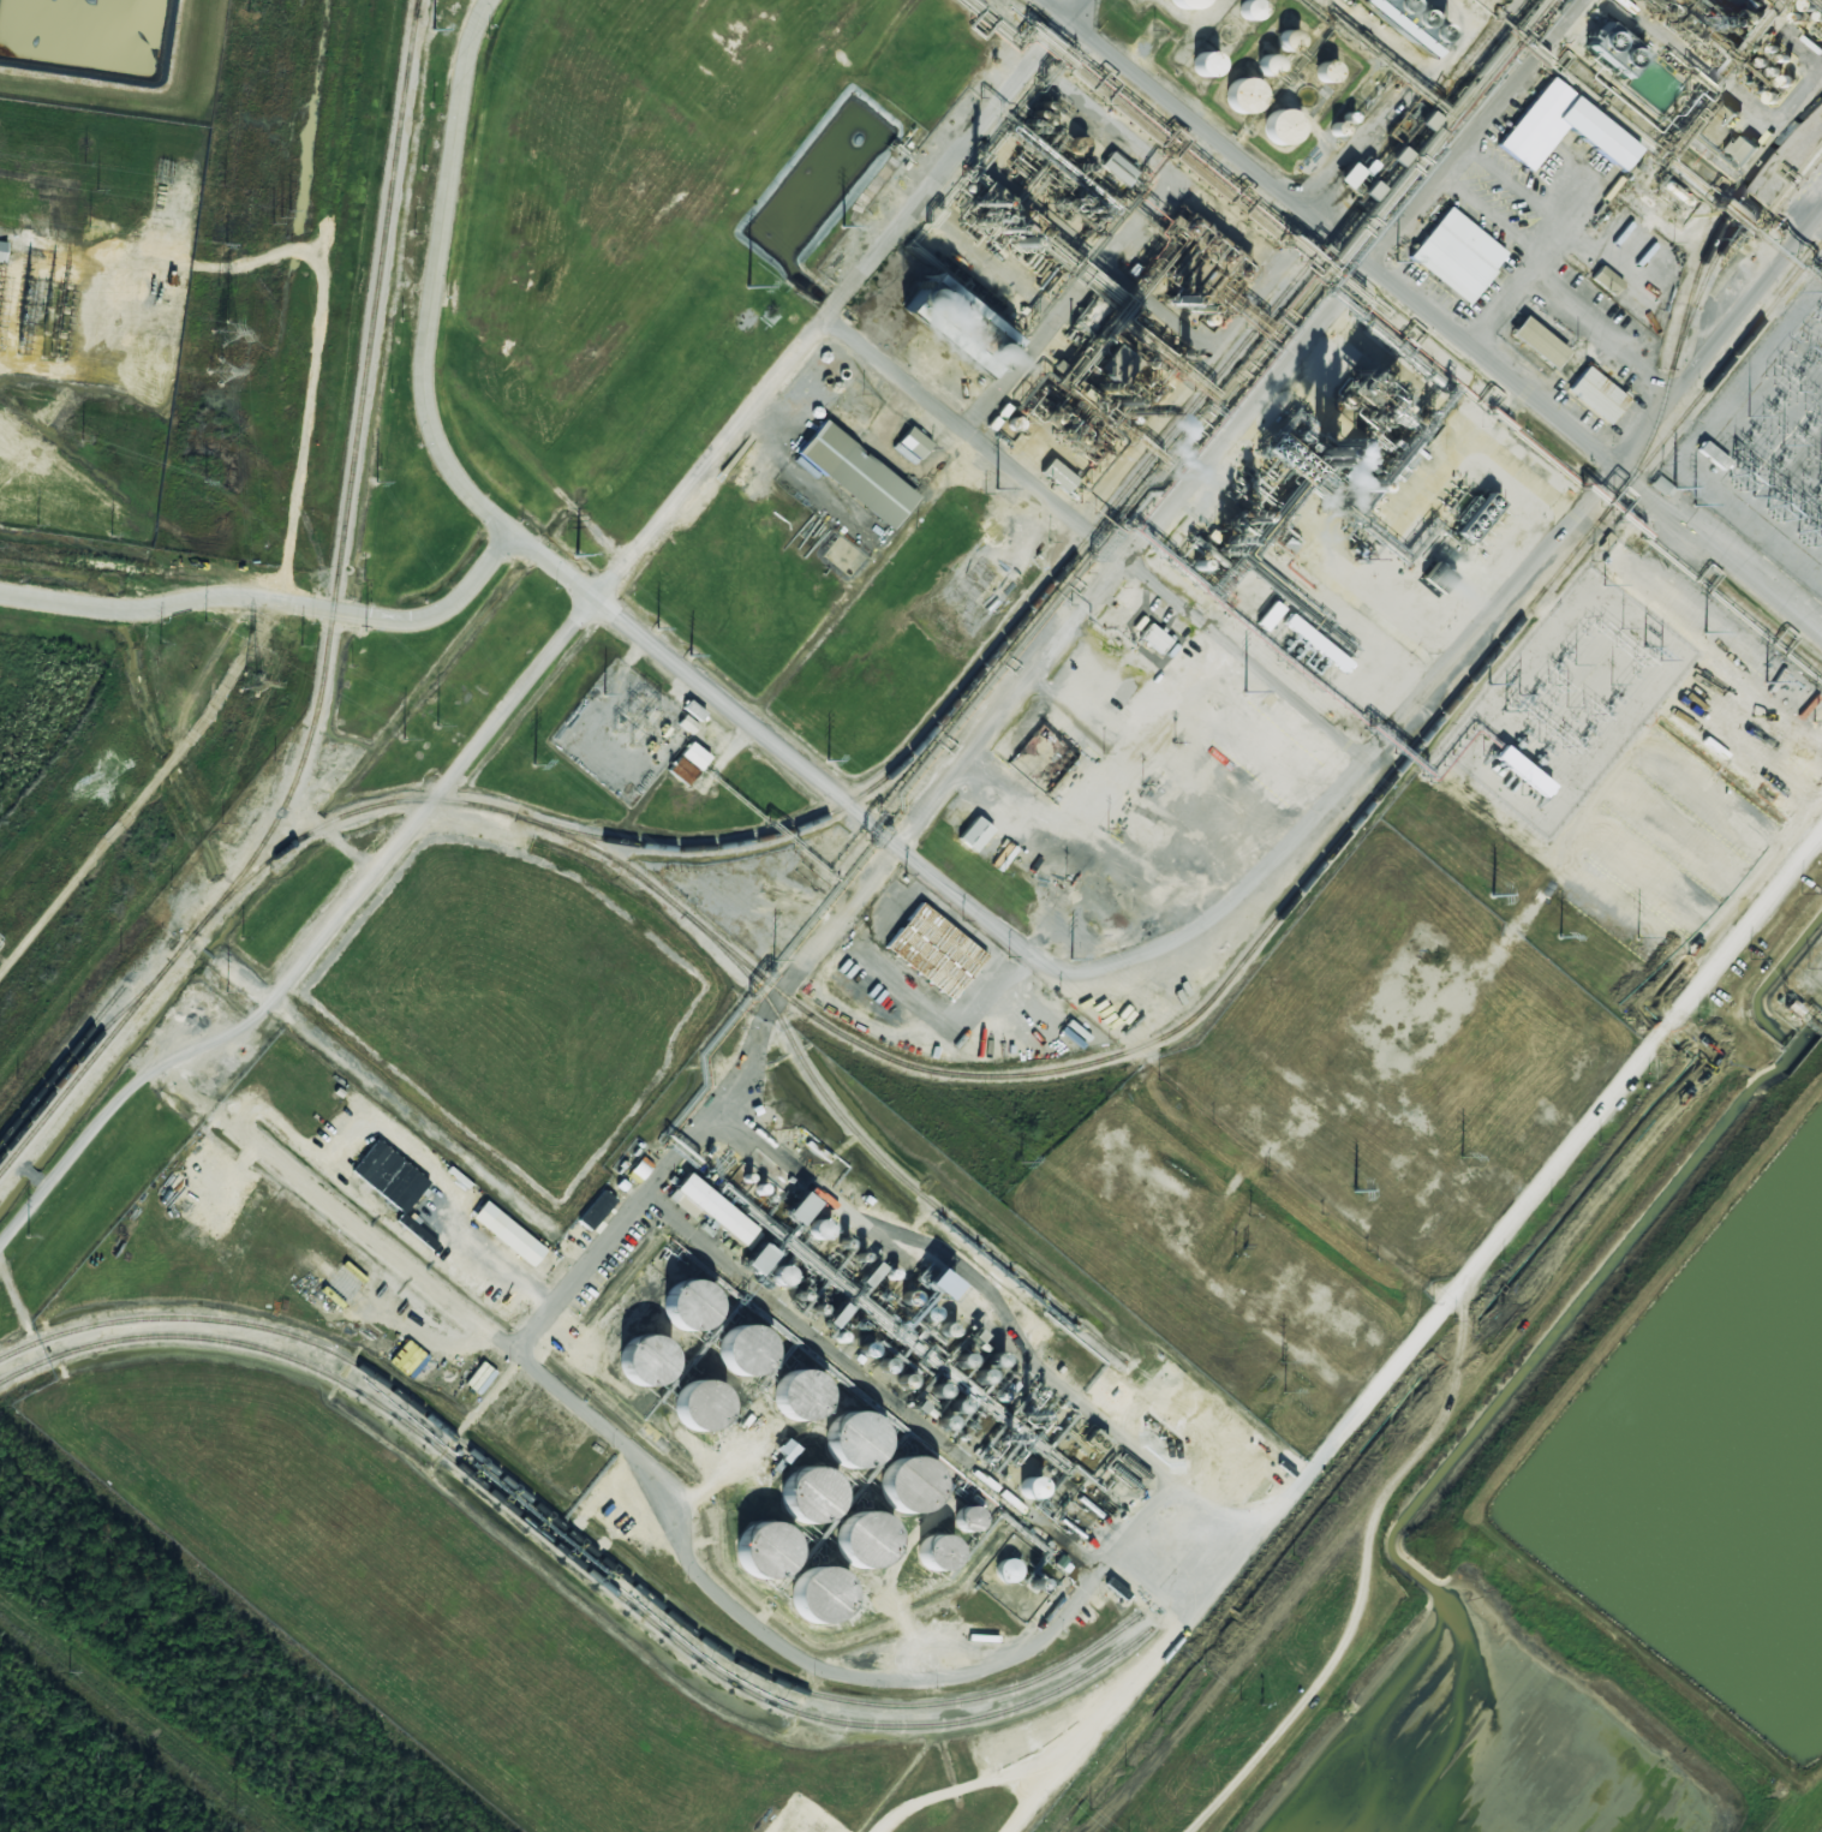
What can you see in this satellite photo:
building: (1177, 4)
storage tank: (1177, 4)
railway: (414, 11)
building: (1614, 49)
building: (1235, 95)
storage tank: (1235, 95)
building: (1716, 123)
building: (1273, 126)
storage tank: (1273, 126)
building: (1593, 129)
railway: (1787, 135)
building: (1739, 150)
building: (1348, 175)
road: (1129, 234)
building: (2, 250)
building: (1453, 250)
road: (428, 274)
building: (1606, 280)
railway: (1701, 285)
power substation: (90, 310)
road: (1434, 317)
building: (957, 326)
power tower: (225, 335)
building: (1533, 340)
road: (1719, 340)
road: (303, 368)
railway: (1719, 369)
power tower: (220, 372)
building: (1593, 389)
road: (1236, 425)
building: (910, 437)
power substation: (1767, 447)
building: (850, 469)
railway: (351, 473)
helipad: (1446, 513)
building: (1476, 517)
railway: (1087, 537)
road: (327, 610)
building: (1154, 638)
road: (557, 644)
power tower: (250, 681)
power substation: (1566, 700)
power substation: (622, 732)
building: (688, 763)
building: (1522, 771)
road: (143, 786)
building: (969, 829)
road: (810, 942)
building: (933, 944)
road: (1145, 948)
railway: (1050, 1070)
railway: (880, 1159)
building: (389, 1176)
building: (710, 1209)
building: (799, 1209)
building: (597, 1210)
building: (508, 1233)
building: (758, 1258)
building: (924, 1272)
building: (344, 1282)
building: (938, 1284)
building: (679, 1309)
storage tank: (679, 1309)
building: (734, 1355)
storage tank: (734, 1355)
building: (634, 1366)
storage tank: (634, 1366)
building: (1177, 1378)
building: (788, 1403)
storage tank: (788, 1403)
building: (687, 1412)
storage tank: (687, 1412)
building: (842, 1445)
storage tank: (842, 1445)
building: (1031, 1487)
building: (897, 1491)
storage tank: (897, 1491)
building: (796, 1502)
storage tank: (796, 1502)
railway: (572, 1532)
building: (852, 1546)
storage tank: (852, 1546)
building: (936, 1552)
building: (755, 1554)
storage tank: (755, 1554)
railway: (574, 1558)
building: (1008, 1570)
road: (1059, 1593)
building: (807, 1603)
storage tank: (807, 1603)

